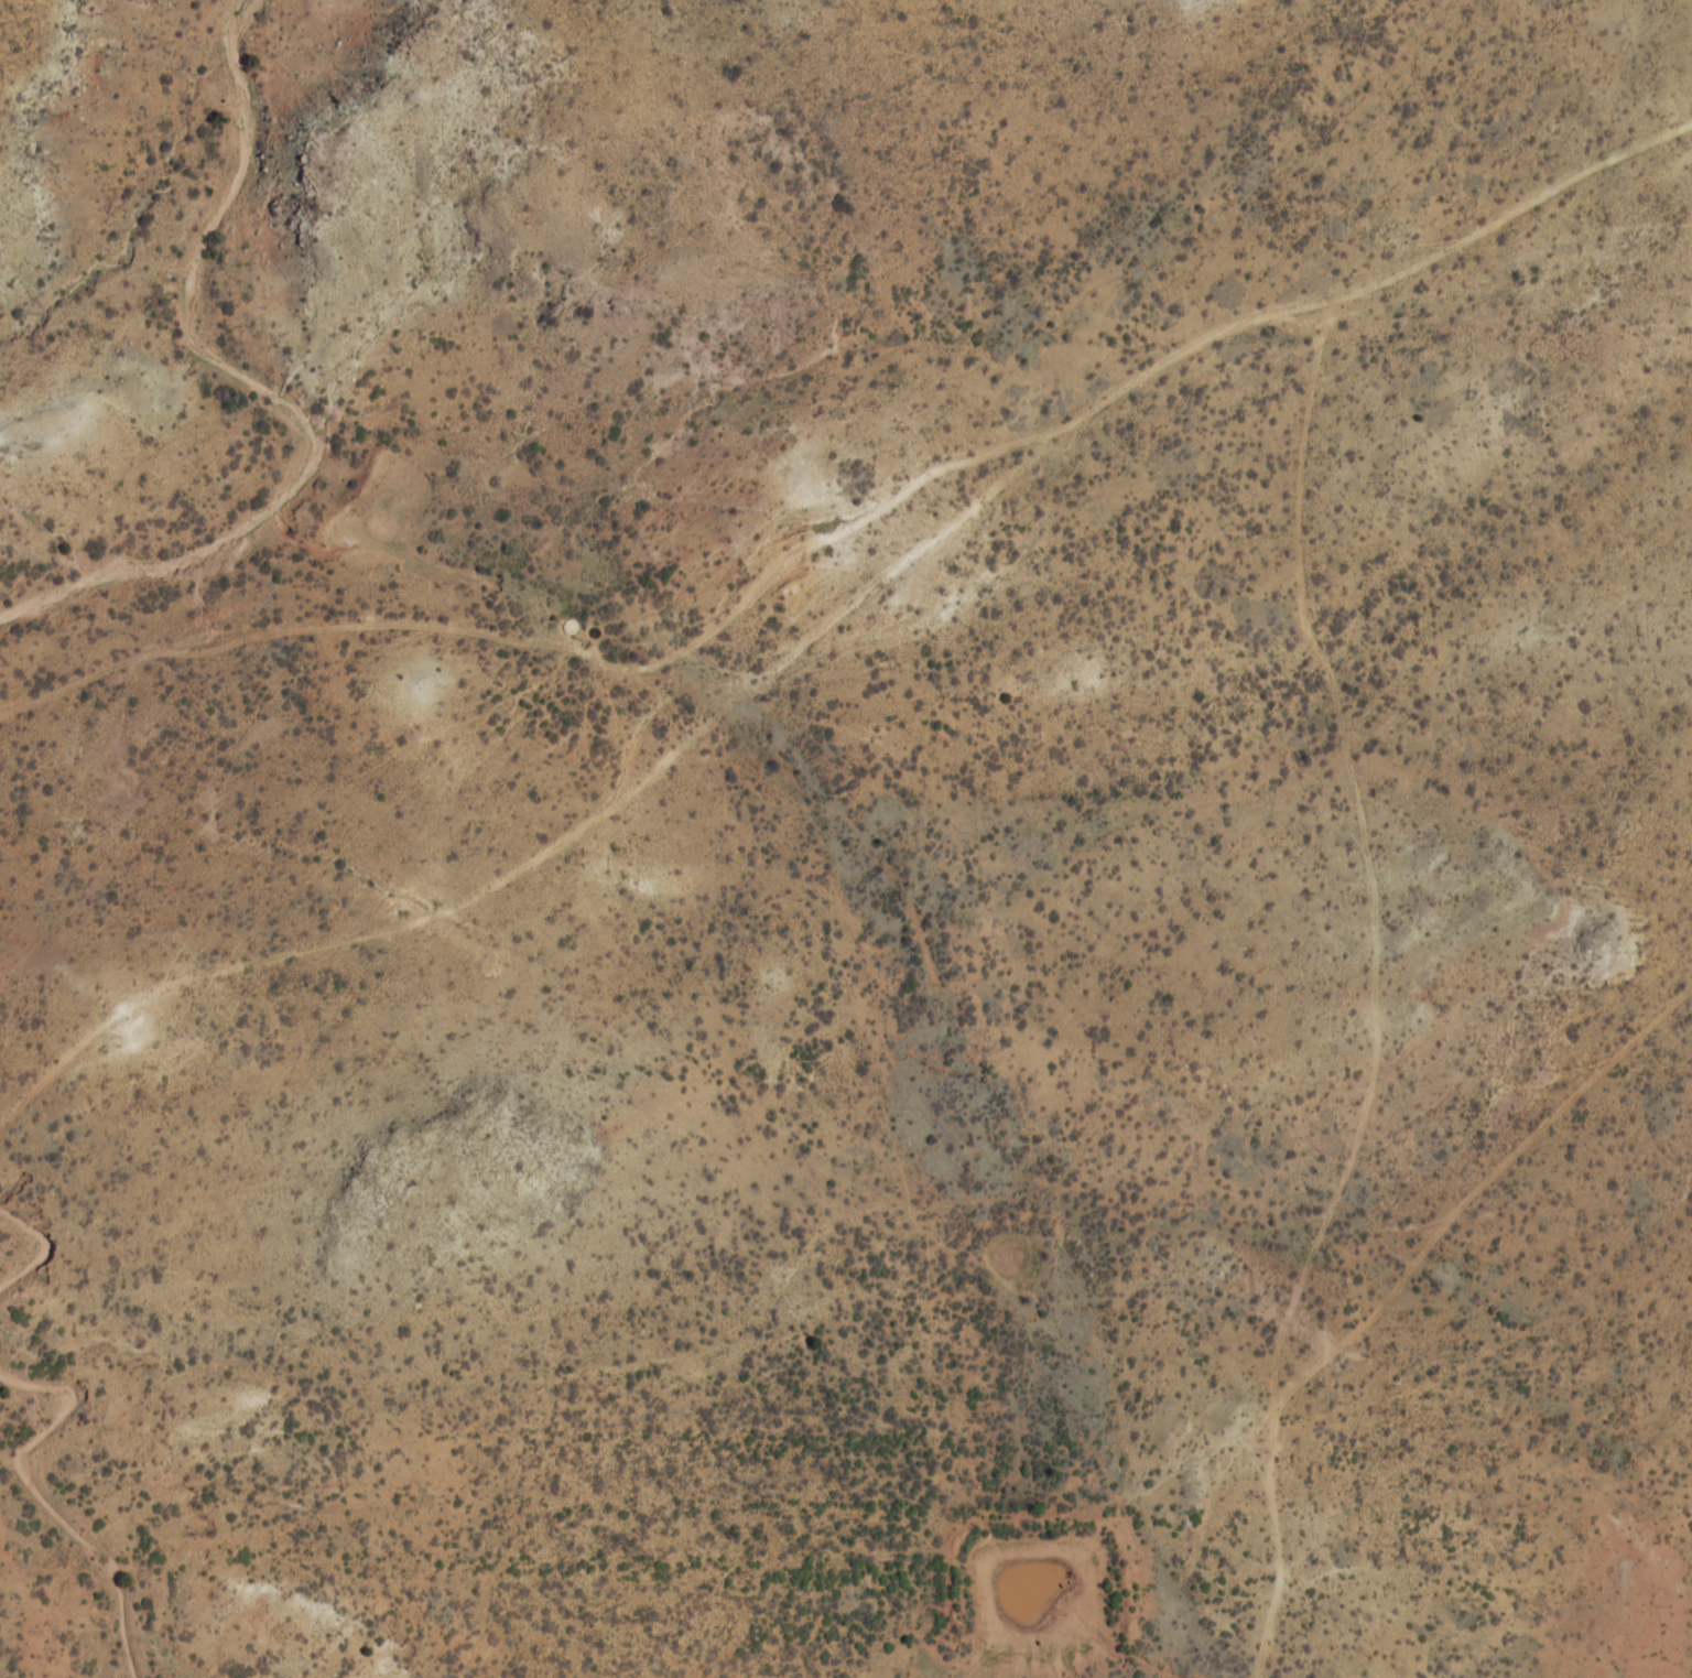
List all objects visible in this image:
road: (870, 498)

